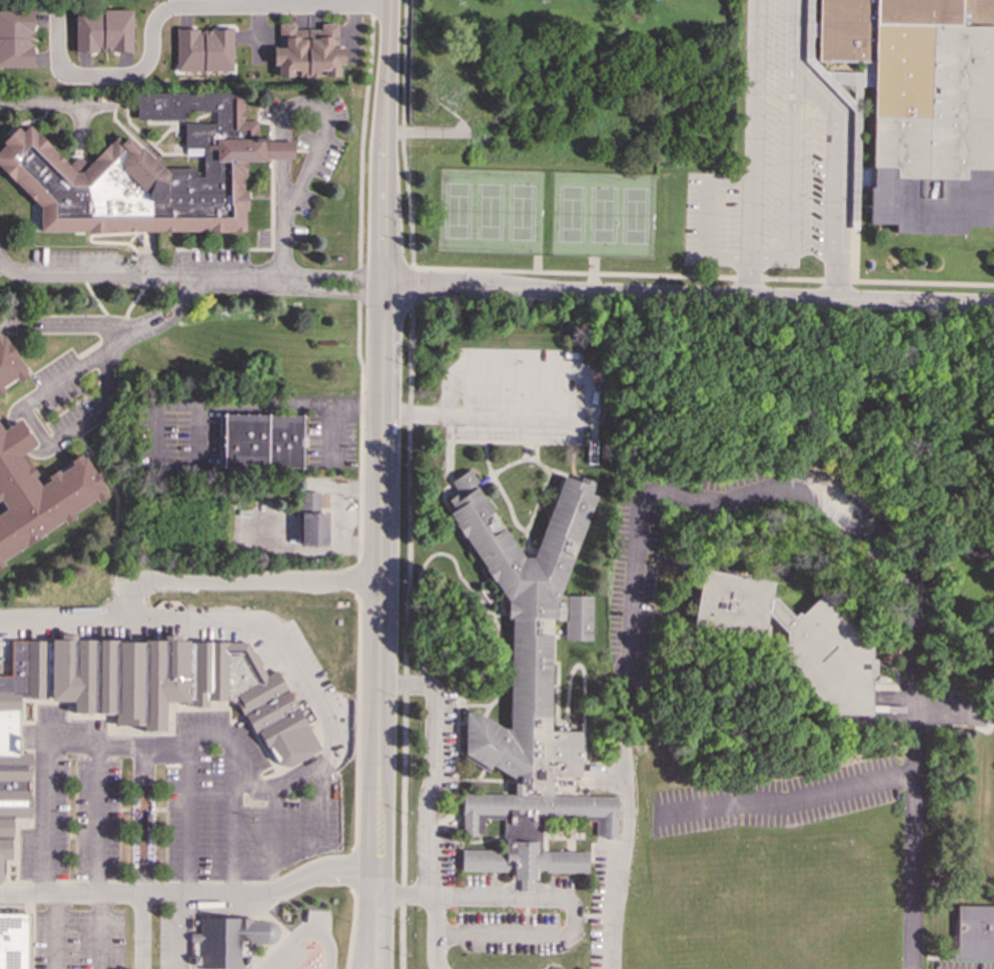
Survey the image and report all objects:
road: (174, 4)
building: (104, 31)
building: (16, 39)
building: (204, 49)
building: (308, 51)
road: (54, 105)
building: (922, 105)
road: (302, 107)
road: (196, 117)
road: (25, 121)
road: (163, 122)
road: (168, 129)
road: (753, 129)
road: (81, 130)
road: (402, 133)
road: (131, 137)
road: (144, 137)
road: (834, 141)
building: (146, 172)
road: (791, 187)
park: (489, 211)
park: (602, 214)
road: (705, 218)
road: (131, 238)
road: (283, 239)
road: (90, 240)
parking lot: (80, 267)
road: (173, 268)
parking lot: (212, 270)
road: (138, 274)
road: (703, 275)
road: (333, 278)
road: (749, 278)
road: (144, 286)
road: (412, 286)
road: (330, 293)
road: (689, 297)
road: (113, 329)
road: (110, 330)
road: (89, 349)
building: (9, 363)
parking lot: (67, 399)
parking lot: (521, 399)
road: (184, 403)
road: (591, 409)
road: (31, 427)
parking lot: (329, 431)
parking lot: (182, 434)
road: (380, 435)
building: (263, 442)
road: (359, 444)
road: (100, 475)
parking lot: (752, 487)
building: (38, 492)
road: (753, 494)
road: (115, 513)
building: (312, 521)
road: (239, 579)
parking lot: (634, 592)
road: (67, 620)
road: (405, 637)
building: (794, 642)
building: (530, 691)
building: (138, 700)
road: (45, 744)
parking lot: (444, 744)
road: (433, 768)
road: (904, 776)
road: (282, 779)
parking lot: (178, 783)
parking lot: (775, 801)
road: (780, 803)
road: (96, 818)
road: (275, 823)
road: (291, 856)
parking lot: (439, 863)
road: (231, 882)
road: (376, 885)
road: (190, 891)
parking lot: (516, 896)
road: (405, 898)
road: (184, 903)
parking lot: (601, 904)
road: (375, 908)
road: (435, 918)
road: (573, 918)
road: (352, 929)
road: (54, 931)
road: (102, 931)
road: (141, 931)
road: (308, 931)
building: (973, 934)
parking lot: (505, 935)
parking lot: (78, 938)
building: (15, 941)
parking lot: (172, 942)
road: (178, 942)
building: (229, 942)
road: (365, 943)
road: (373, 943)
parking lot: (305, 945)
road: (436, 946)
road: (437, 962)
parking lot: (959, 965)

